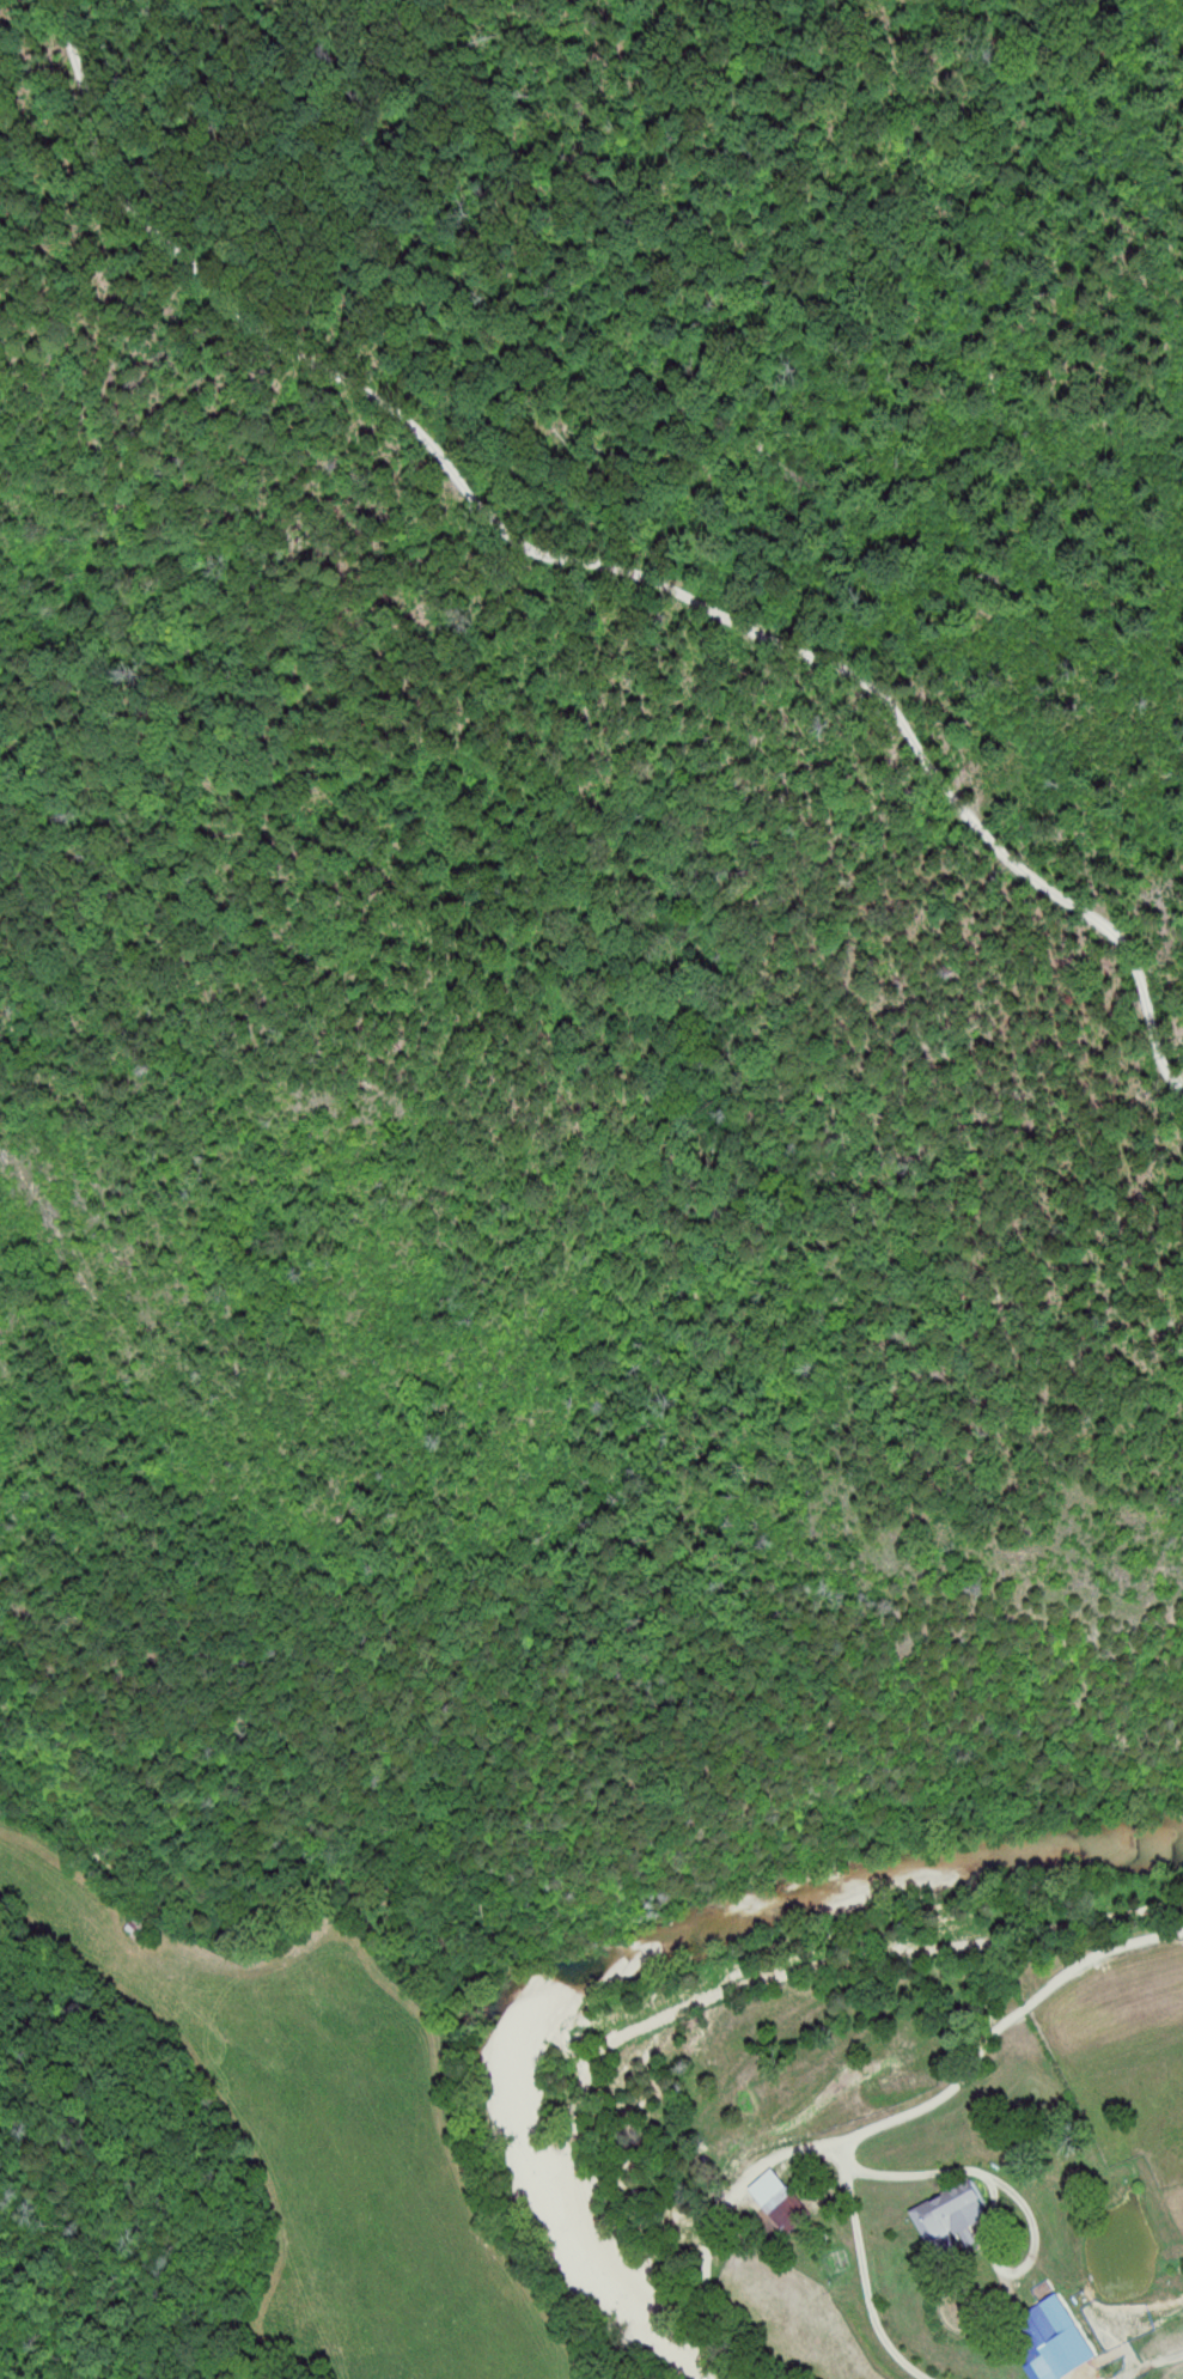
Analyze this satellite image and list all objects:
road: (591, 571)
road: (848, 2100)
building: (791, 2201)
building: (961, 2216)
building: (1069, 2343)

